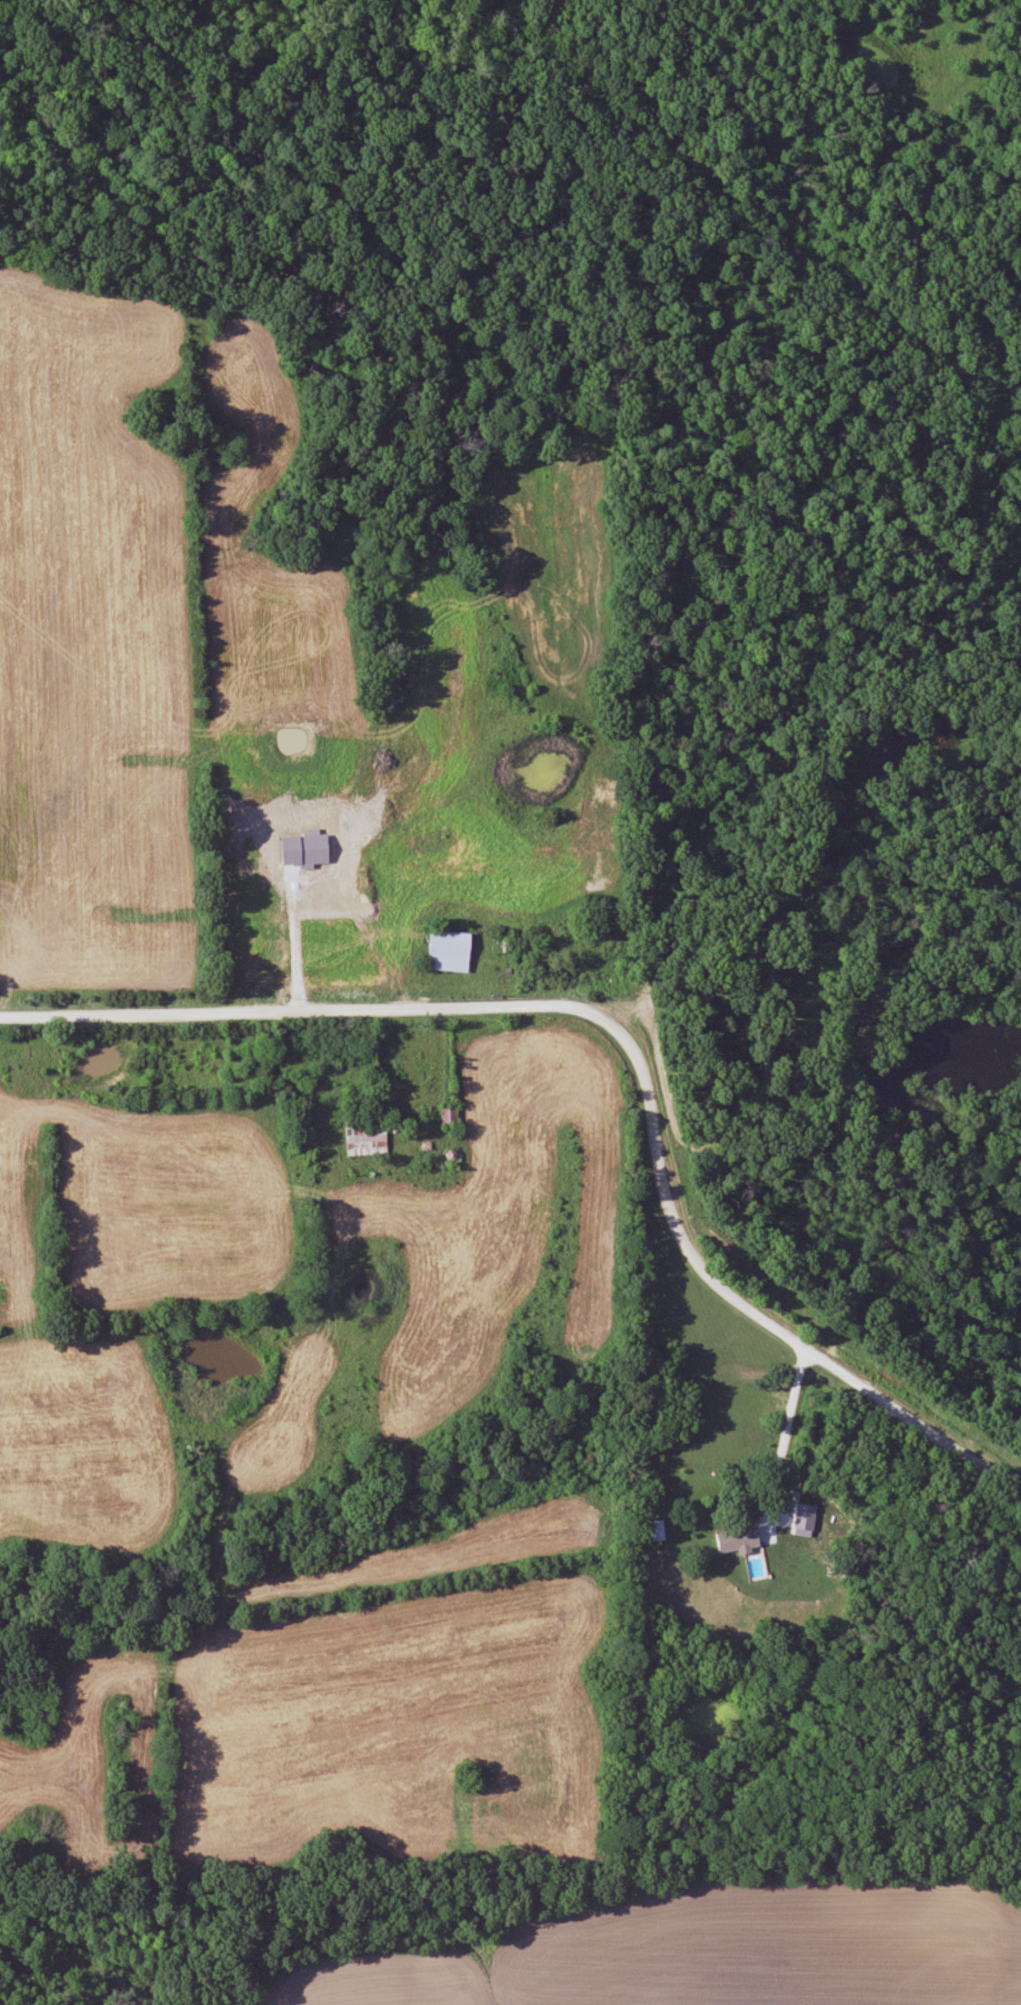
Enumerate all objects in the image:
building: (450, 952)
road: (620, 1040)
building: (449, 1116)
building: (366, 1138)
road: (784, 1430)
building: (658, 1531)
building: (738, 1540)

